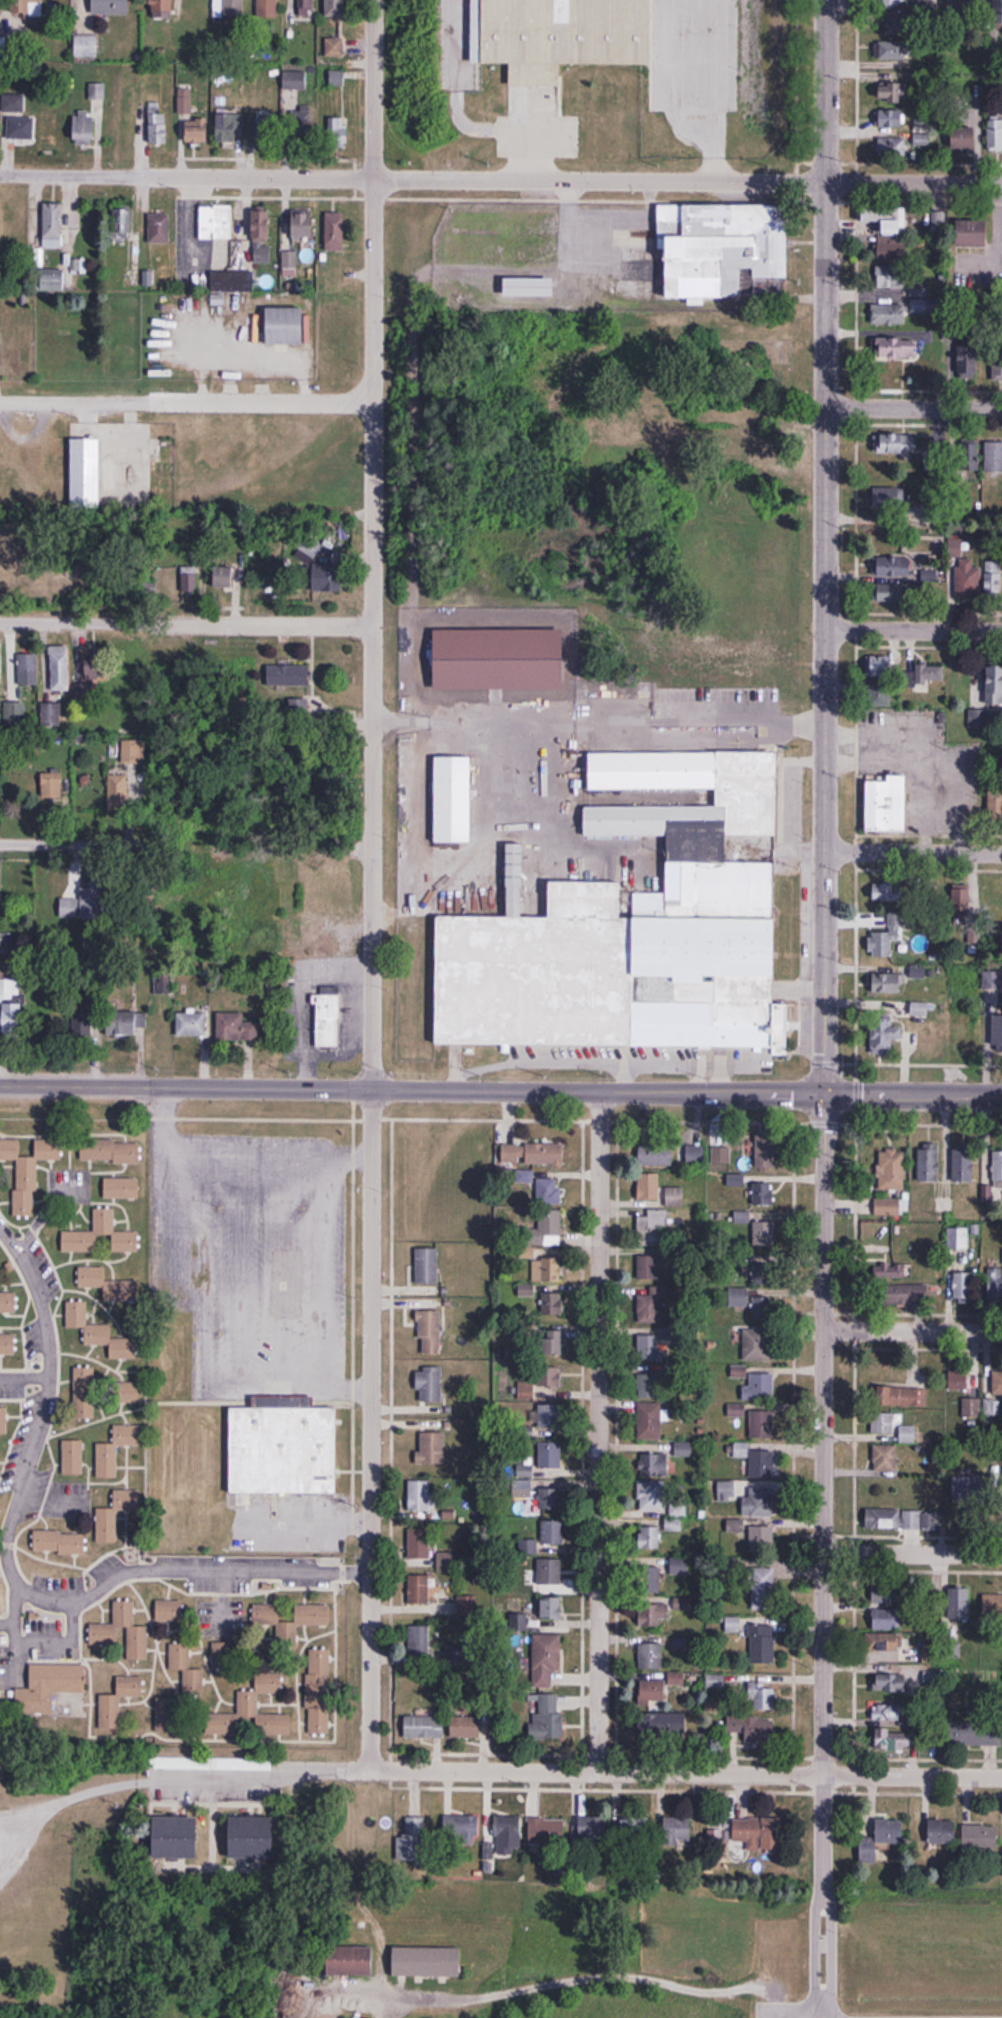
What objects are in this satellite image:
building: (907, 3)
building: (31, 7)
building: (109, 7)
building: (234, 8)
building: (305, 8)
building: (335, 8)
building: (161, 9)
building: (267, 9)
building: (963, 9)
building: (998, 11)
building: (542, 32)
building: (334, 47)
building: (894, 50)
parking lot: (680, 63)
road: (720, 67)
building: (337, 77)
building: (294, 80)
road: (667, 80)
road: (374, 88)
road: (823, 91)
building: (894, 93)
building: (185, 100)
building: (13, 103)
building: (891, 118)
building: (157, 124)
building: (19, 127)
building: (301, 127)
building: (83, 128)
building: (229, 129)
building: (196, 131)
building: (266, 131)
building: (337, 132)
building: (994, 132)
building: (963, 138)
building: (891, 147)
road: (531, 153)
road: (710, 156)
road: (187, 176)
road: (599, 180)
road: (913, 183)
building: (121, 219)
building: (215, 222)
building: (301, 224)
building: (52, 225)
building: (159, 228)
building: (888, 229)
building: (334, 231)
building: (972, 233)
building: (261, 235)
building: (720, 247)
building: (890, 277)
building: (232, 281)
building: (529, 287)
road: (825, 295)
building: (901, 310)
building: (287, 325)
building: (1, 336)
building: (897, 348)
building: (968, 360)
building: (997, 365)
road: (187, 396)
road: (914, 409)
building: (895, 444)
building: (967, 455)
building: (993, 457)
building: (85, 473)
building: (108, 474)
building: (890, 498)
building: (892, 566)
building: (226, 577)
building: (993, 577)
building: (328, 578)
building: (186, 580)
building: (149, 581)
building: (967, 581)
building: (893, 593)
road: (185, 625)
road: (914, 631)
road: (371, 633)
building: (60, 668)
building: (26, 669)
building: (288, 676)
building: (922, 676)
building: (879, 681)
building: (994, 685)
building: (298, 709)
building: (51, 714)
building: (13, 716)
building: (979, 719)
road: (602, 722)
road: (825, 751)
building: (51, 785)
building: (116, 794)
building: (452, 798)
building: (887, 805)
building: (995, 807)
road: (76, 840)
road: (913, 852)
building: (965, 891)
building: (888, 892)
building: (993, 901)
building: (84, 904)
building: (882, 943)
building: (621, 964)
building: (991, 980)
building: (163, 983)
building: (887, 983)
building: (10, 1000)
building: (89, 1017)
building: (327, 1021)
building: (121, 1024)
building: (190, 1025)
building: (236, 1028)
building: (997, 1032)
building: (887, 1033)
road: (186, 1082)
road: (687, 1092)
road: (216, 1150)
building: (110, 1151)
building: (656, 1152)
building: (529, 1153)
road: (349, 1155)
building: (694, 1155)
building: (766, 1159)
building: (926, 1162)
building: (963, 1165)
building: (891, 1170)
building: (28, 1171)
building: (649, 1186)
building: (121, 1188)
building: (547, 1191)
building: (763, 1194)
building: (891, 1207)
building: (104, 1219)
building: (651, 1224)
building: (545, 1228)
building: (764, 1234)
building: (957, 1237)
building: (427, 1265)
building: (649, 1265)
road: (327, 1267)
building: (547, 1269)
building: (893, 1271)
building: (762, 1273)
building: (108, 1284)
building: (995, 1285)
building: (963, 1287)
building: (902, 1294)
building: (8, 1302)
building: (552, 1303)
building: (651, 1308)
road: (912, 1331)
building: (429, 1332)
building: (761, 1332)
building: (100, 1333)
building: (552, 1341)
building: (7, 1346)
building: (648, 1347)
road: (22, 1372)
building: (548, 1376)
building: (958, 1380)
building: (650, 1381)
building: (997, 1382)
building: (429, 1384)
building: (758, 1386)
building: (526, 1389)
road: (338, 1390)
building: (84, 1391)
building: (129, 1392)
building: (906, 1396)
building: (971, 1407)
building: (549, 1415)
building: (3, 1420)
building: (650, 1420)
building: (762, 1422)
building: (883, 1422)
road: (357, 1424)
road: (599, 1432)
building: (908, 1434)
road: (823, 1435)
building: (269, 1448)
building: (432, 1448)
building: (683, 1448)
building: (115, 1449)
building: (550, 1455)
building: (72, 1456)
building: (886, 1458)
building: (761, 1463)
building: (653, 1464)
building: (968, 1488)
building: (420, 1495)
building: (652, 1495)
building: (550, 1498)
building: (758, 1501)
building: (115, 1514)
building: (893, 1518)
road: (300, 1523)
building: (735, 1526)
building: (551, 1532)
building: (649, 1537)
building: (761, 1538)
building: (59, 1542)
building: (418, 1543)
road: (913, 1552)
building: (549, 1572)
building: (652, 1574)
road: (13, 1583)
building: (763, 1589)
building: (418, 1590)
building: (959, 1604)
building: (992, 1605)
building: (469, 1606)
building: (551, 1607)
building: (169, 1610)
building: (652, 1614)
building: (890, 1619)
building: (291, 1623)
road: (6, 1624)
building: (733, 1625)
building: (103, 1636)
building: (419, 1641)
building: (762, 1643)
road: (31, 1646)
building: (888, 1647)
building: (545, 1656)
building: (650, 1656)
road: (11, 1661)
building: (186, 1670)
building: (676, 1679)
building: (892, 1684)
building: (319, 1691)
building: (652, 1692)
building: (760, 1697)
building: (118, 1701)
building: (248, 1703)
building: (889, 1713)
building: (547, 1717)
building: (662, 1726)
building: (424, 1727)
building: (466, 1728)
building: (753, 1728)
building: (975, 1733)
building: (892, 1740)
road: (490, 1766)
building: (634, 1828)
building: (592, 1829)
road: (822, 1829)
building: (461, 1830)
building: (546, 1831)
building: (677, 1831)
building: (756, 1831)
building: (942, 1832)
building: (508, 1835)
building: (979, 1837)
building: (175, 1838)
building: (242, 1838)
building: (881, 1839)
building: (412, 1840)
road: (811, 1941)
road: (834, 1944)
park: (573, 1954)
building: (349, 1960)
building: (427, 1961)
building: (304, 1988)
road: (919, 2011)
parking lot: (859, 2014)

